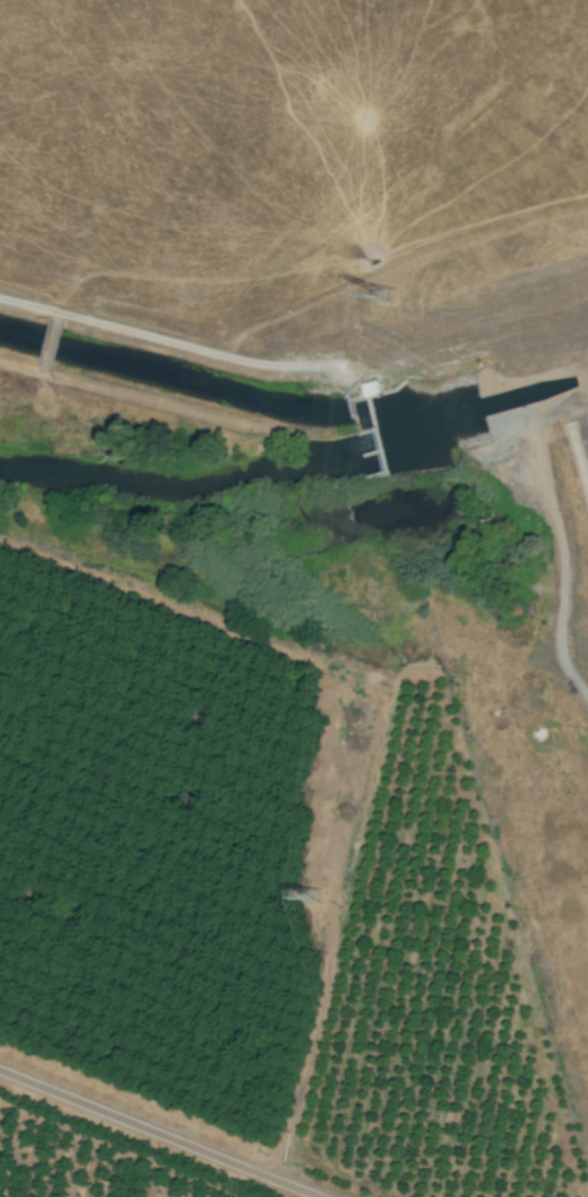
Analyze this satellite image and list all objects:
power tower: (389, 296)
power tower: (314, 899)
road: (158, 1134)

